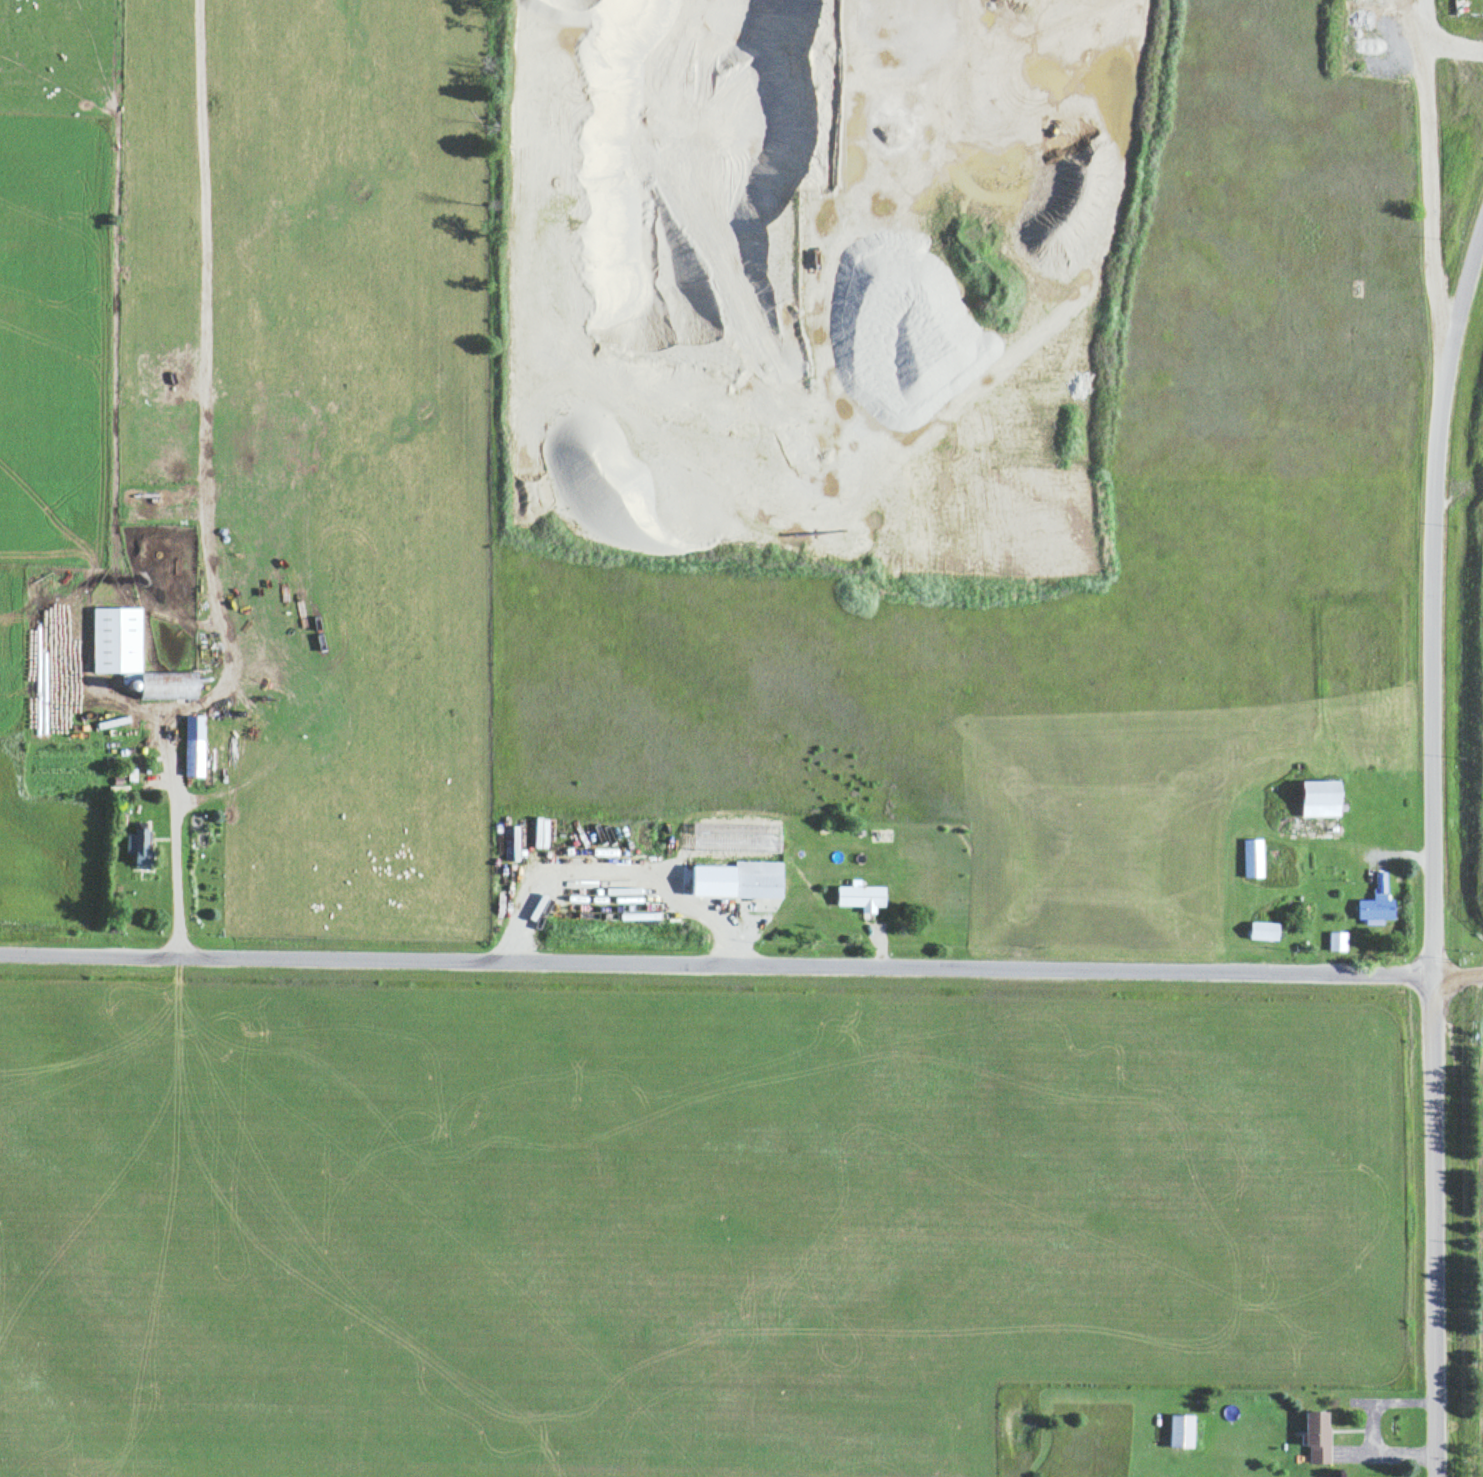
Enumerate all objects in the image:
road: (1421, 172)
quarry: (757, 217)
road: (1456, 486)
building: (134, 653)
quarry: (1471, 697)
building: (193, 743)
building: (1323, 796)
building: (807, 825)
road: (1430, 841)
building: (137, 842)
building: (685, 843)
building: (1253, 856)
road: (173, 863)
building: (758, 876)
building: (862, 894)
building: (1376, 907)
building: (1265, 929)
building: (1337, 939)
road: (715, 965)
road: (1457, 975)
road: (716, 981)
building: (1180, 1428)
building: (1317, 1435)

